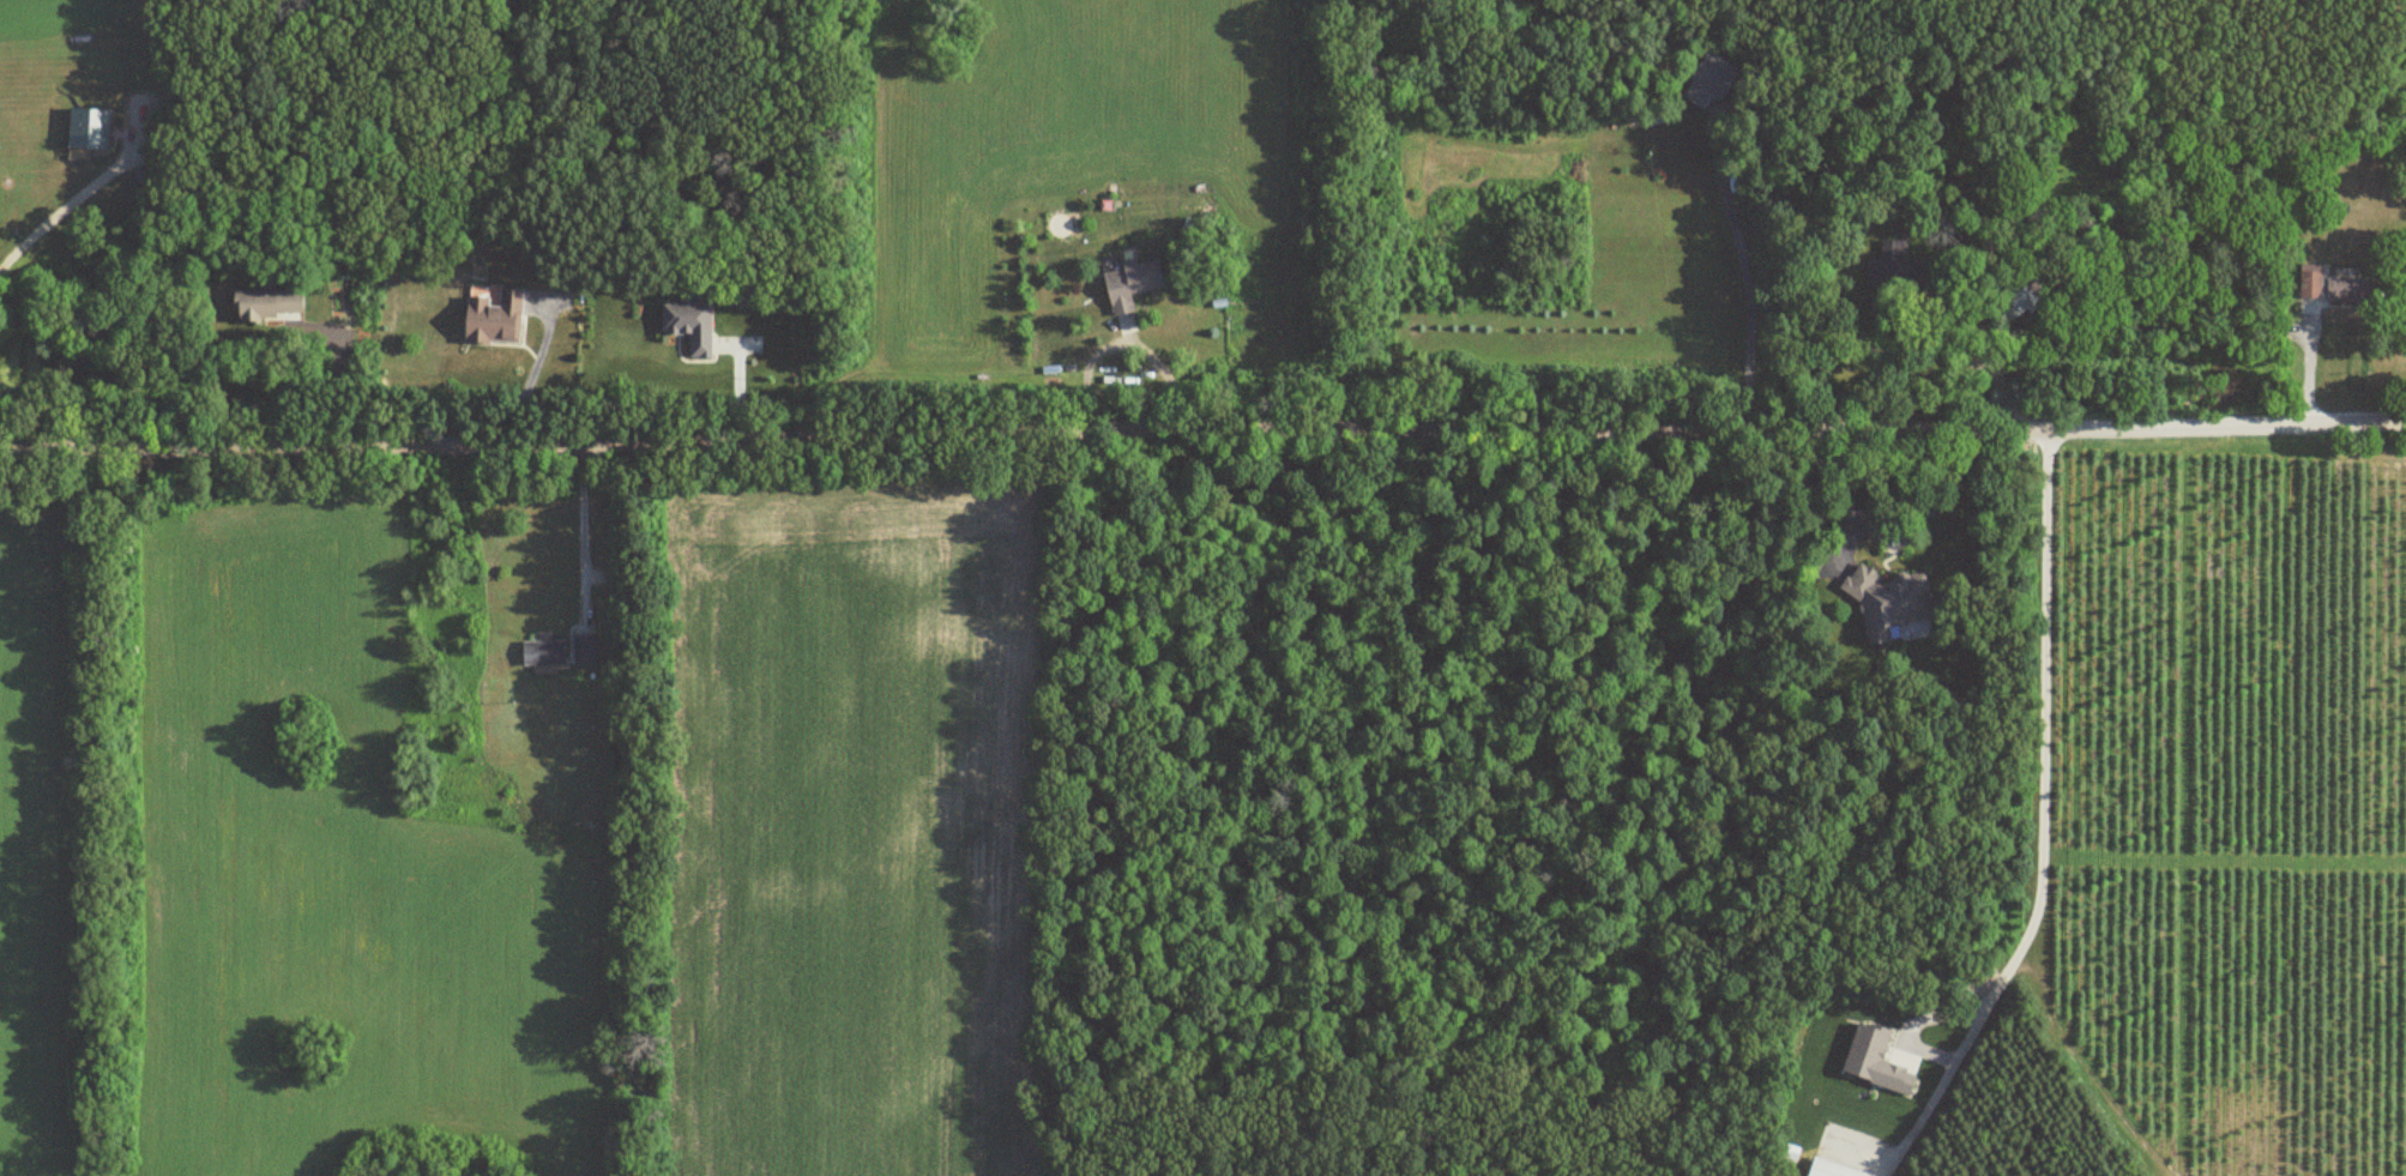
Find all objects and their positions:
building: (1708, 79)
building: (85, 129)
road: (55, 212)
building: (1894, 265)
building: (1127, 283)
road: (1749, 284)
building: (2329, 284)
building: (747, 291)
building: (2007, 303)
building: (264, 306)
building: (489, 315)
building: (687, 327)
road: (1123, 349)
road: (1978, 364)
road: (336, 374)
road: (529, 376)
road: (1202, 436)
road: (580, 515)
road: (1889, 539)
building: (1888, 604)
building: (580, 649)
building: (539, 651)
road: (2037, 824)

